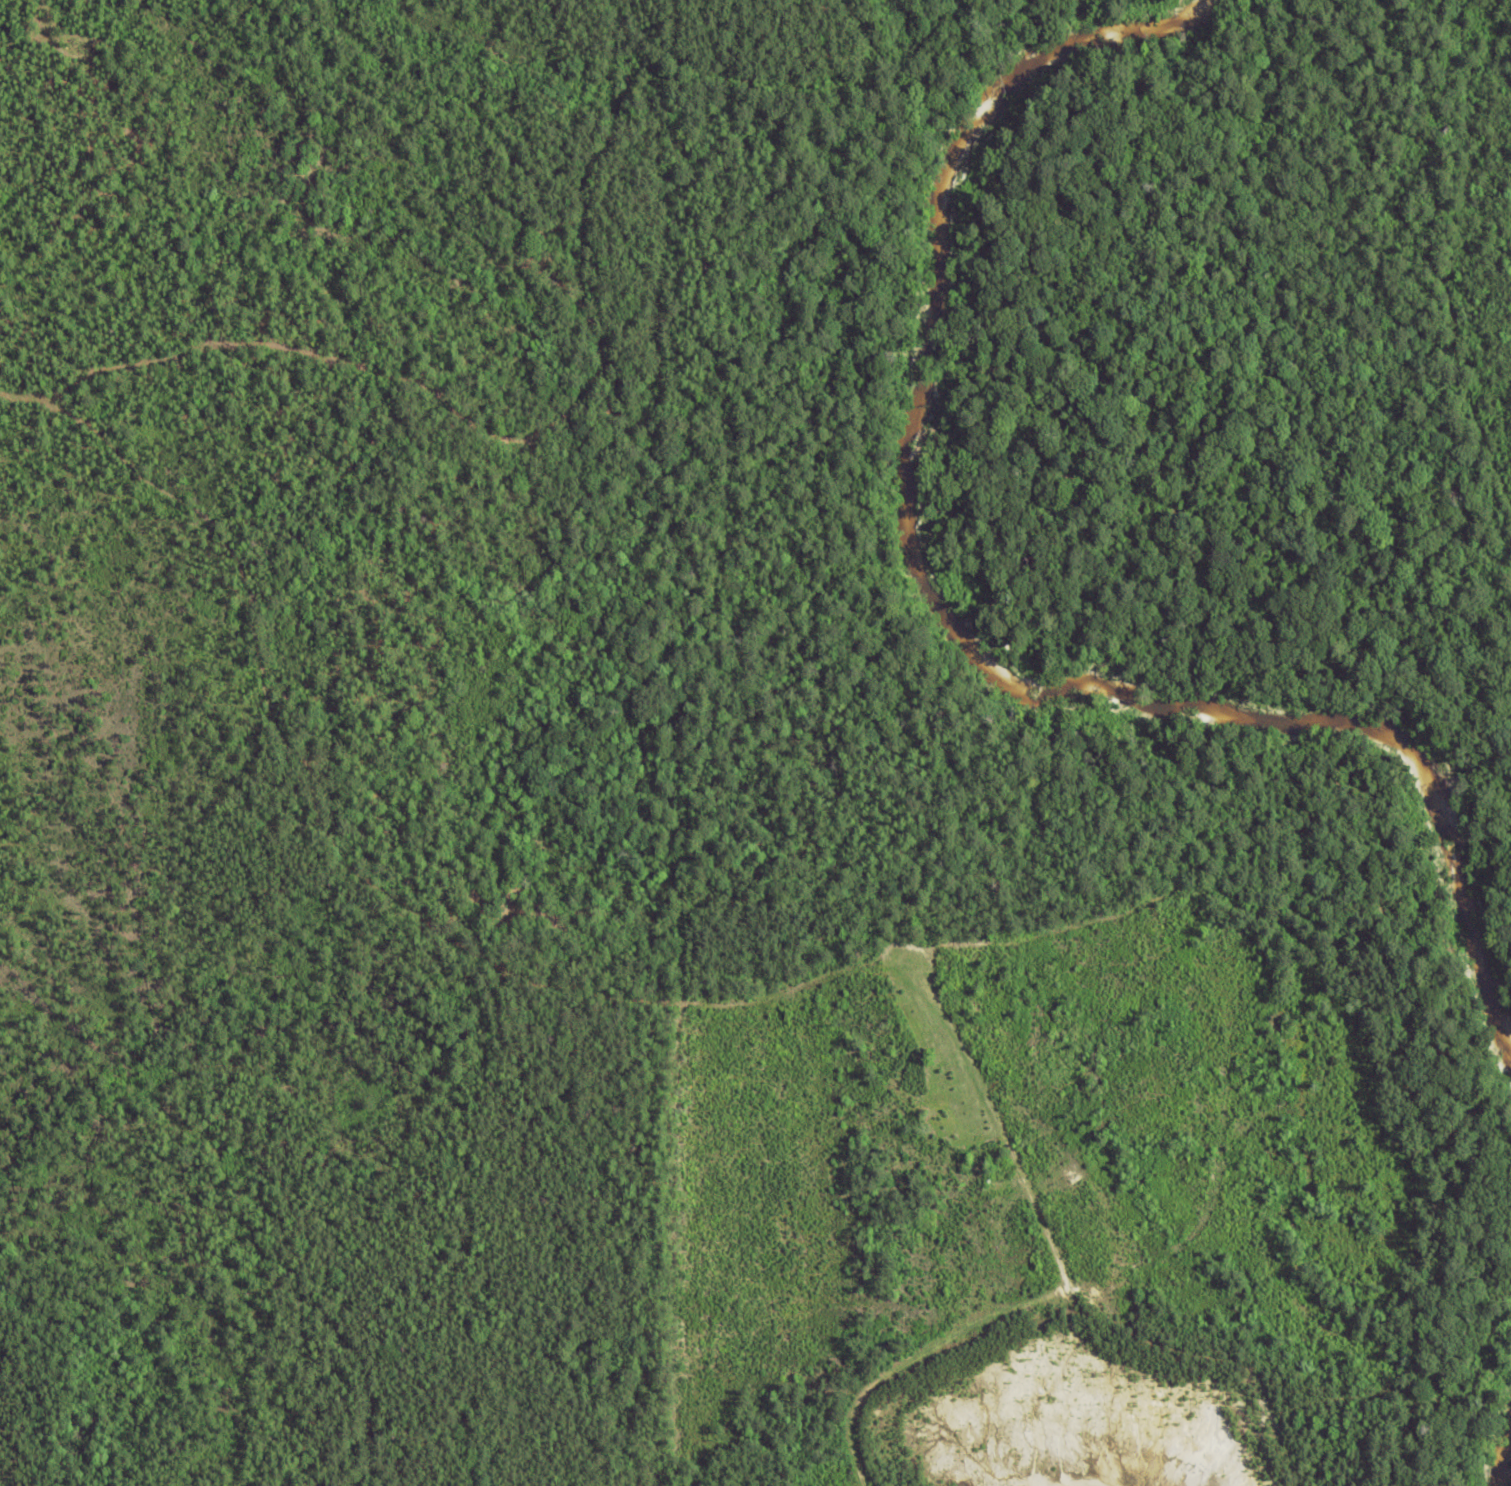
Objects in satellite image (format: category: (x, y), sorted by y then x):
river: (956, 624)
road: (1023, 1117)
river: (1501, 1455)

